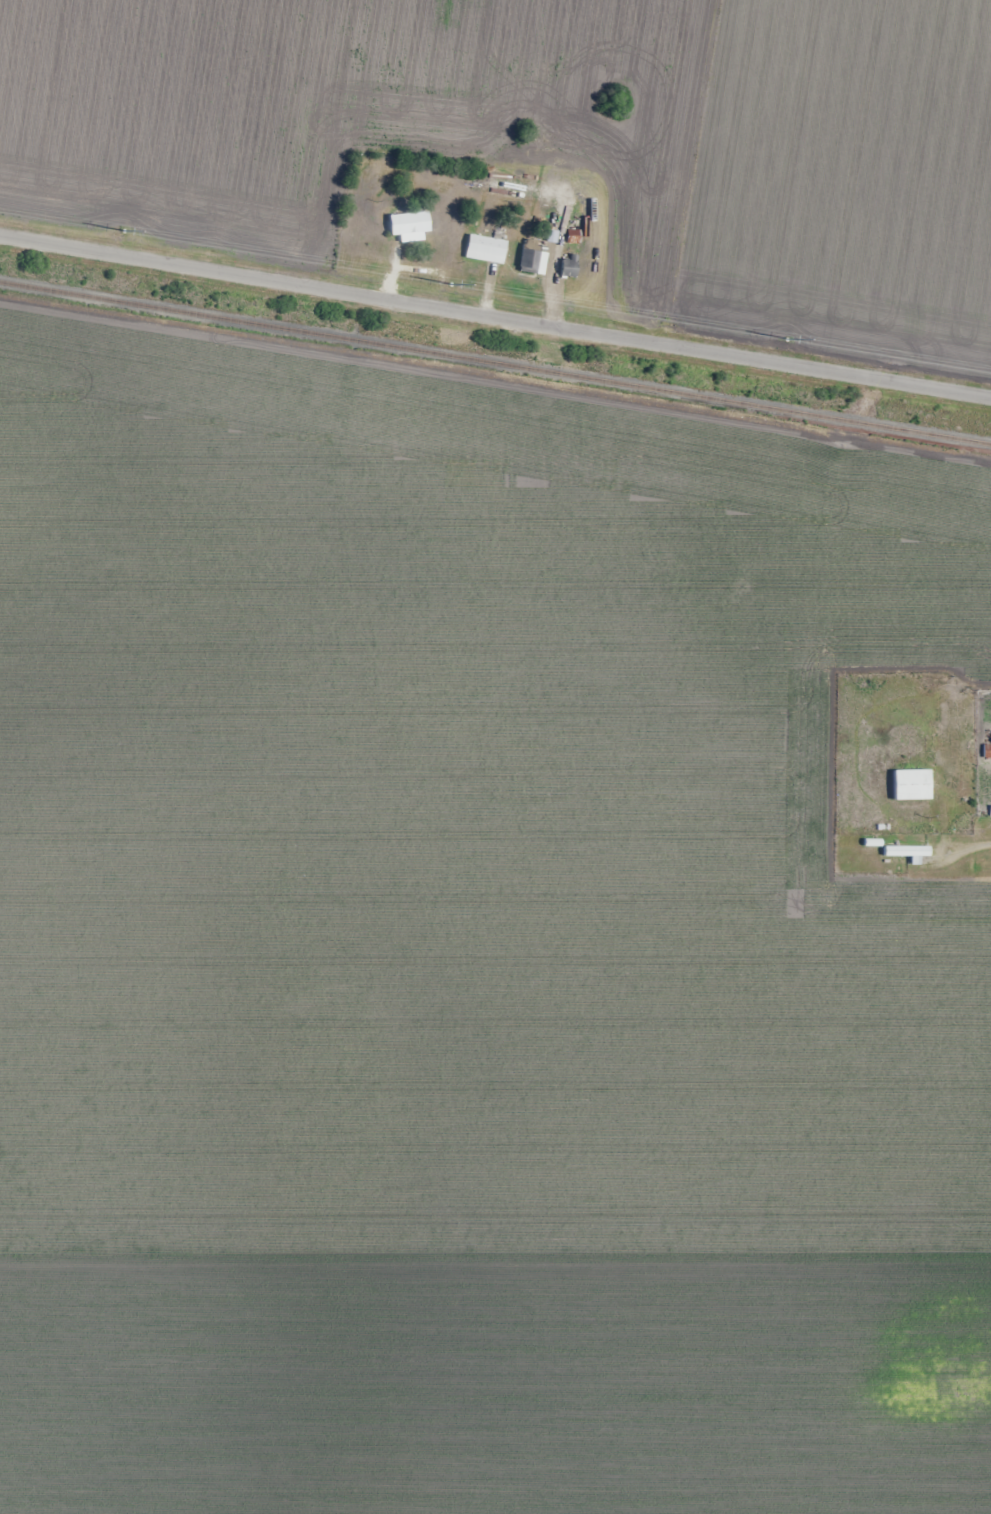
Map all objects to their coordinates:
building: (409, 223)
power tower: (118, 233)
building: (486, 246)
building: (531, 258)
building: (568, 267)
power tower: (452, 288)
road: (495, 317)
power tower: (787, 344)
railway: (495, 363)
building: (987, 752)
building: (911, 785)
building: (910, 855)

